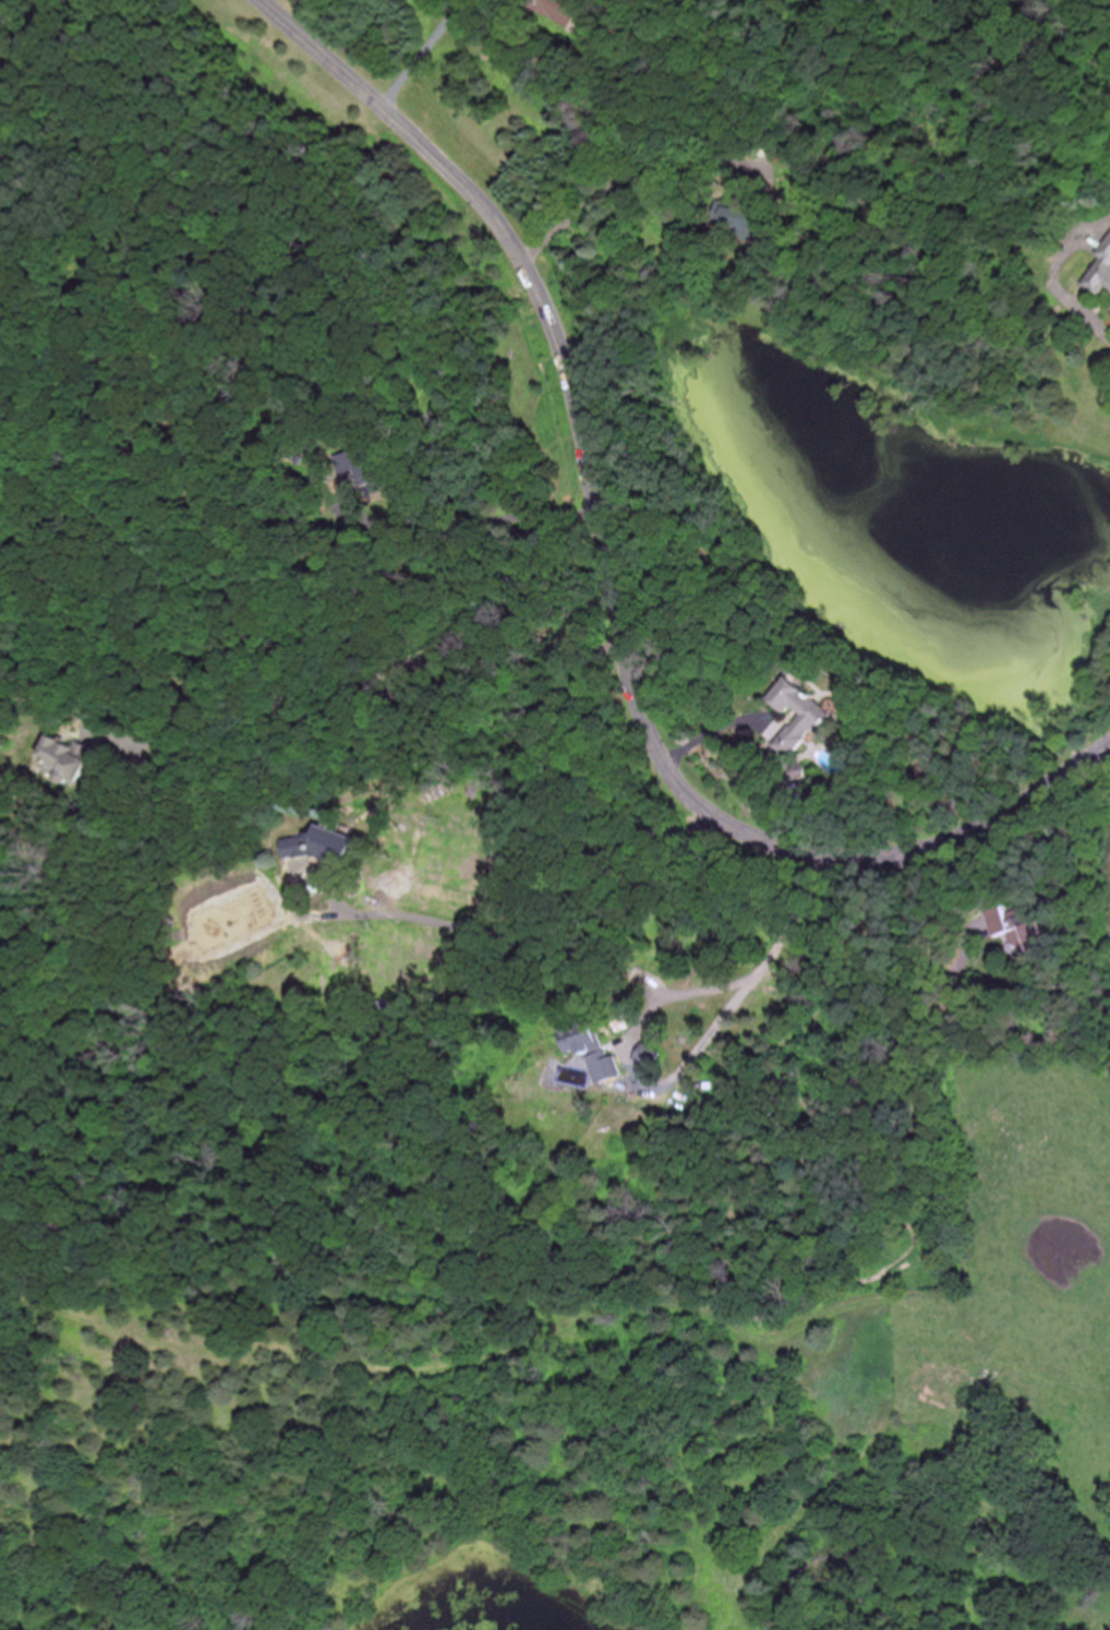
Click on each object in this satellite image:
building: (559, 9)
road: (5, 19)
road: (415, 48)
road: (601, 189)
building: (1100, 268)
road: (1099, 325)
road: (490, 524)
road: (603, 591)
road: (369, 673)
building: (799, 710)
road: (709, 731)
building: (67, 754)
building: (330, 848)
building: (1021, 926)
road: (542, 930)
road: (648, 1010)
building: (582, 1056)

